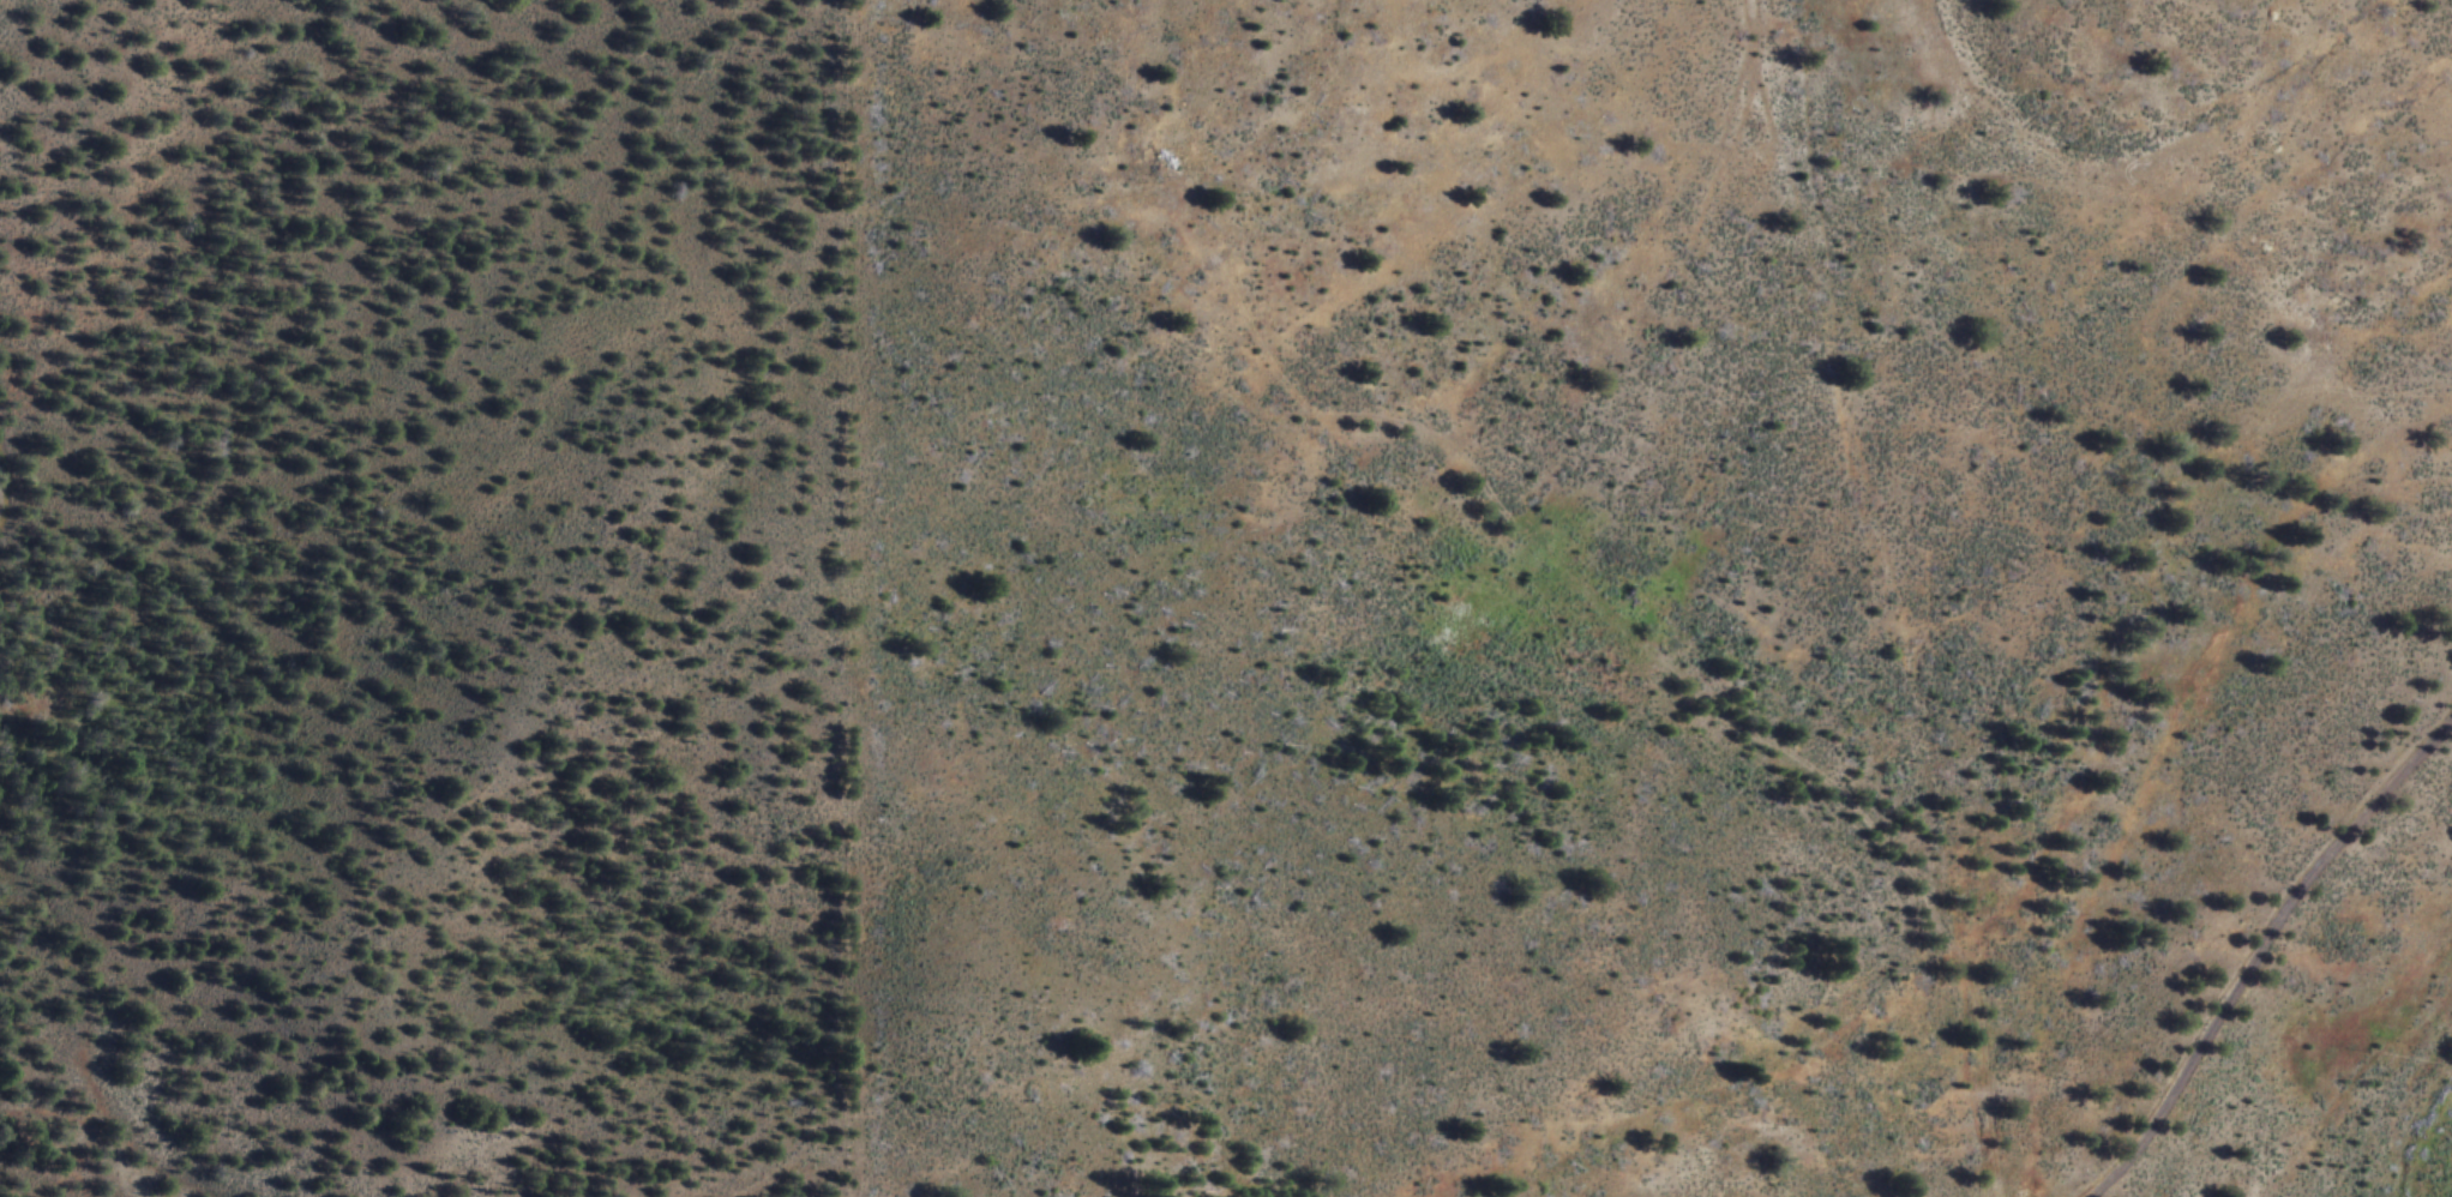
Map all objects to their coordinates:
road: (2259, 952)

